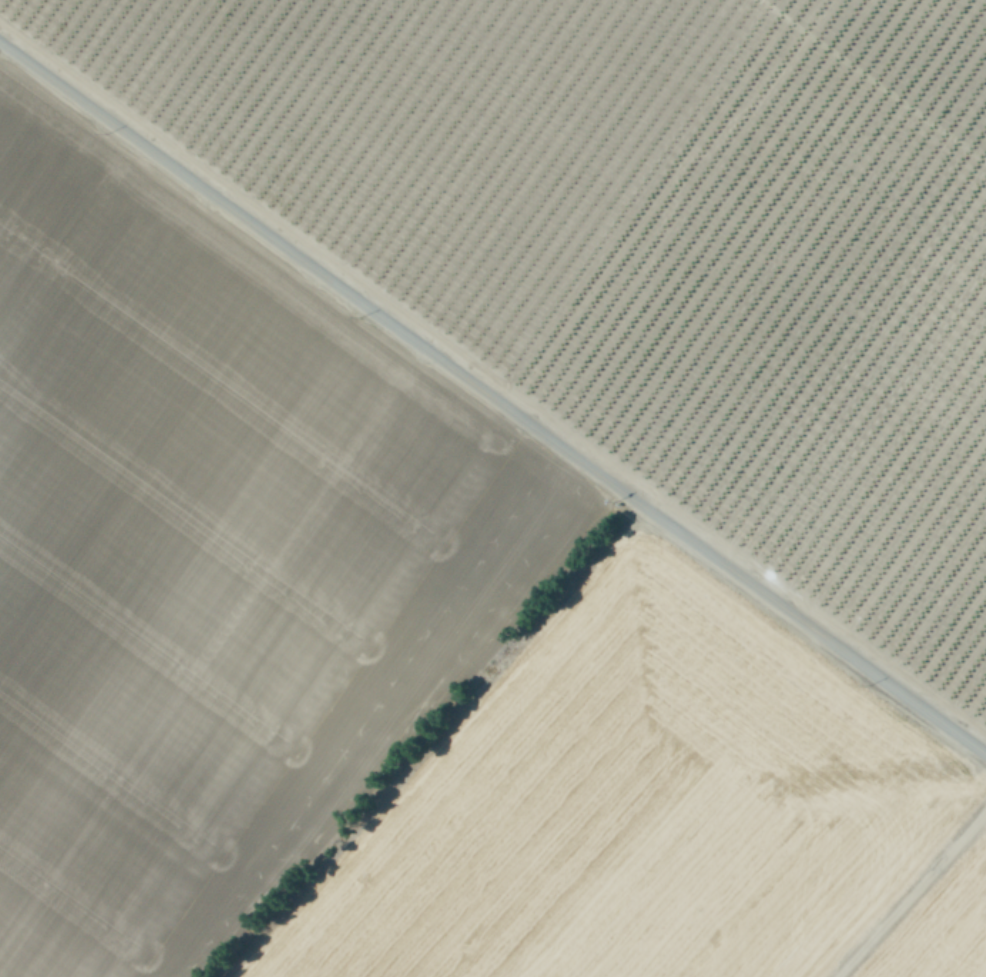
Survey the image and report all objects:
road: (492, 400)
crop: (493, 488)
road: (909, 893)

